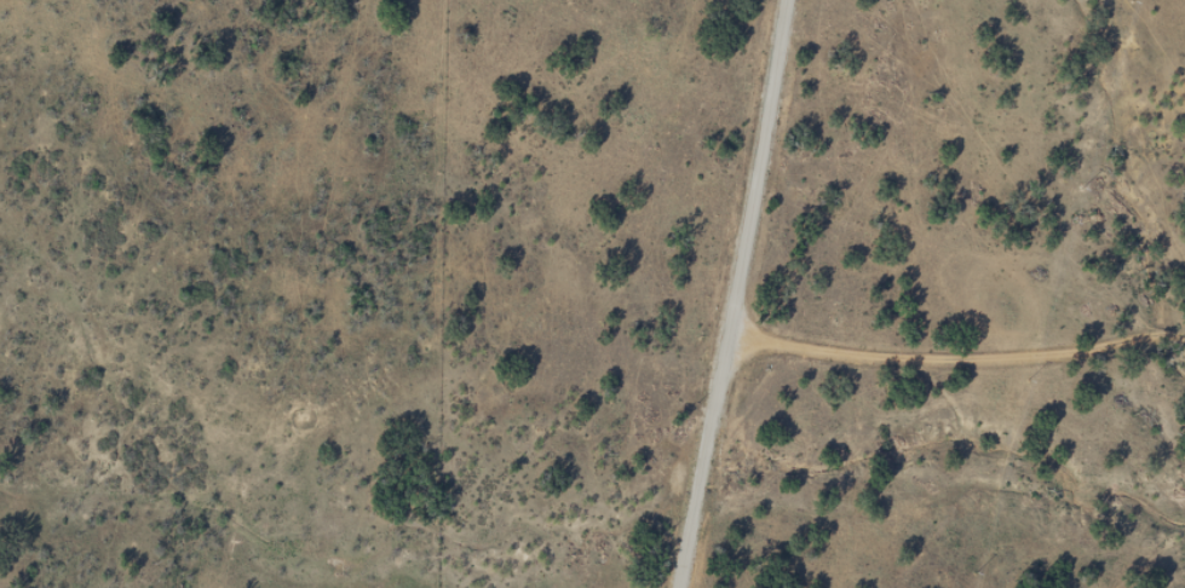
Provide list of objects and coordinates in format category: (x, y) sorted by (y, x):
road: (735, 294)

